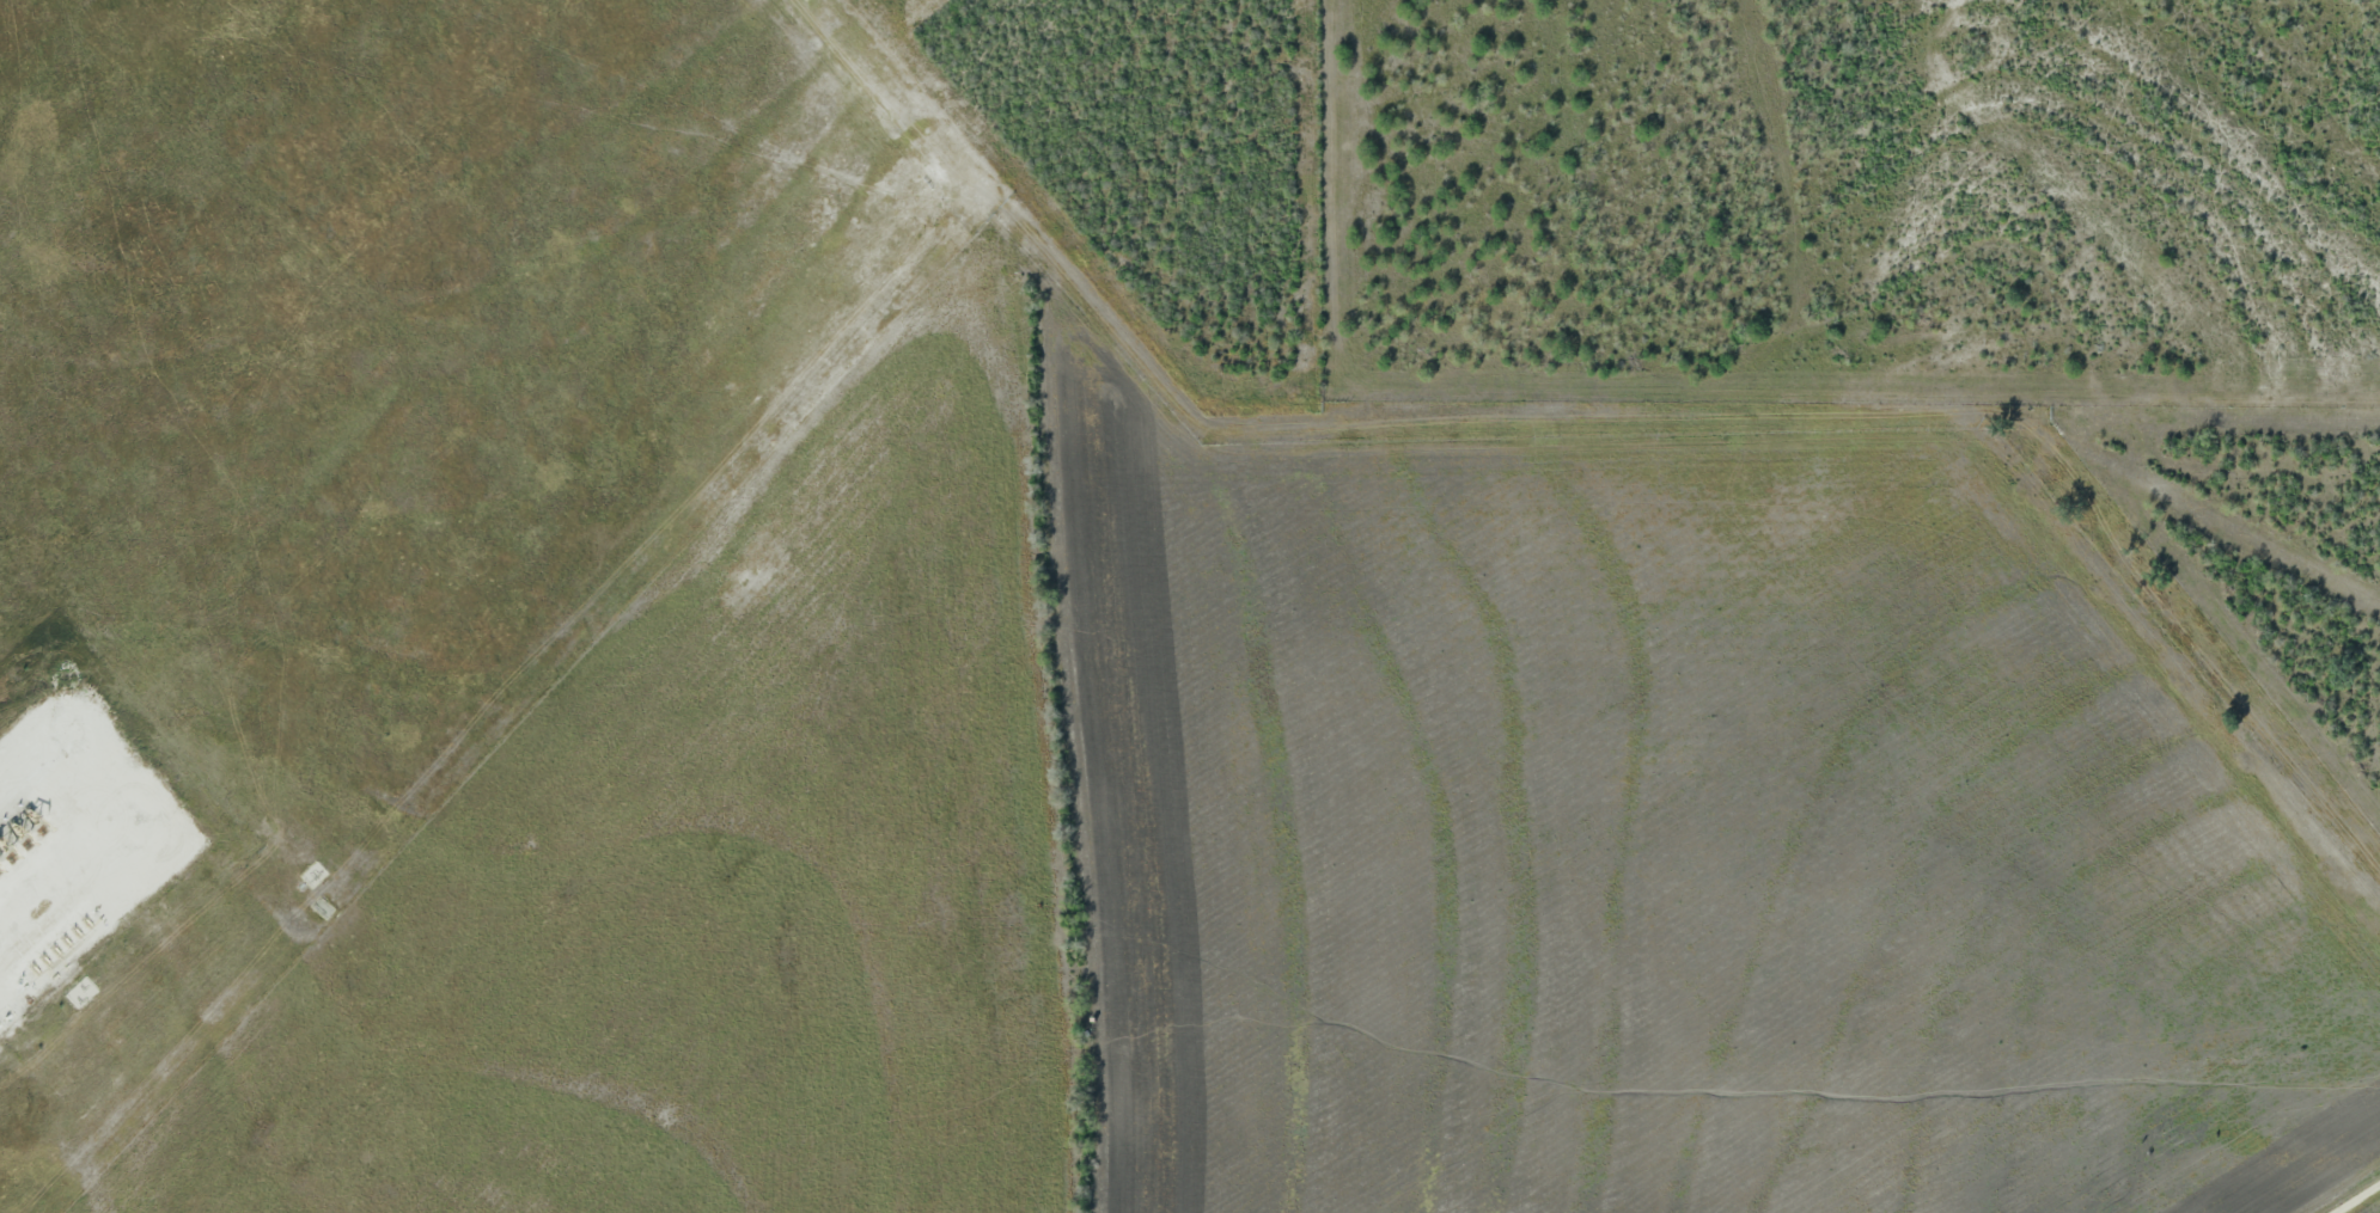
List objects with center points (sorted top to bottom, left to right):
road: (2368, 1205)

